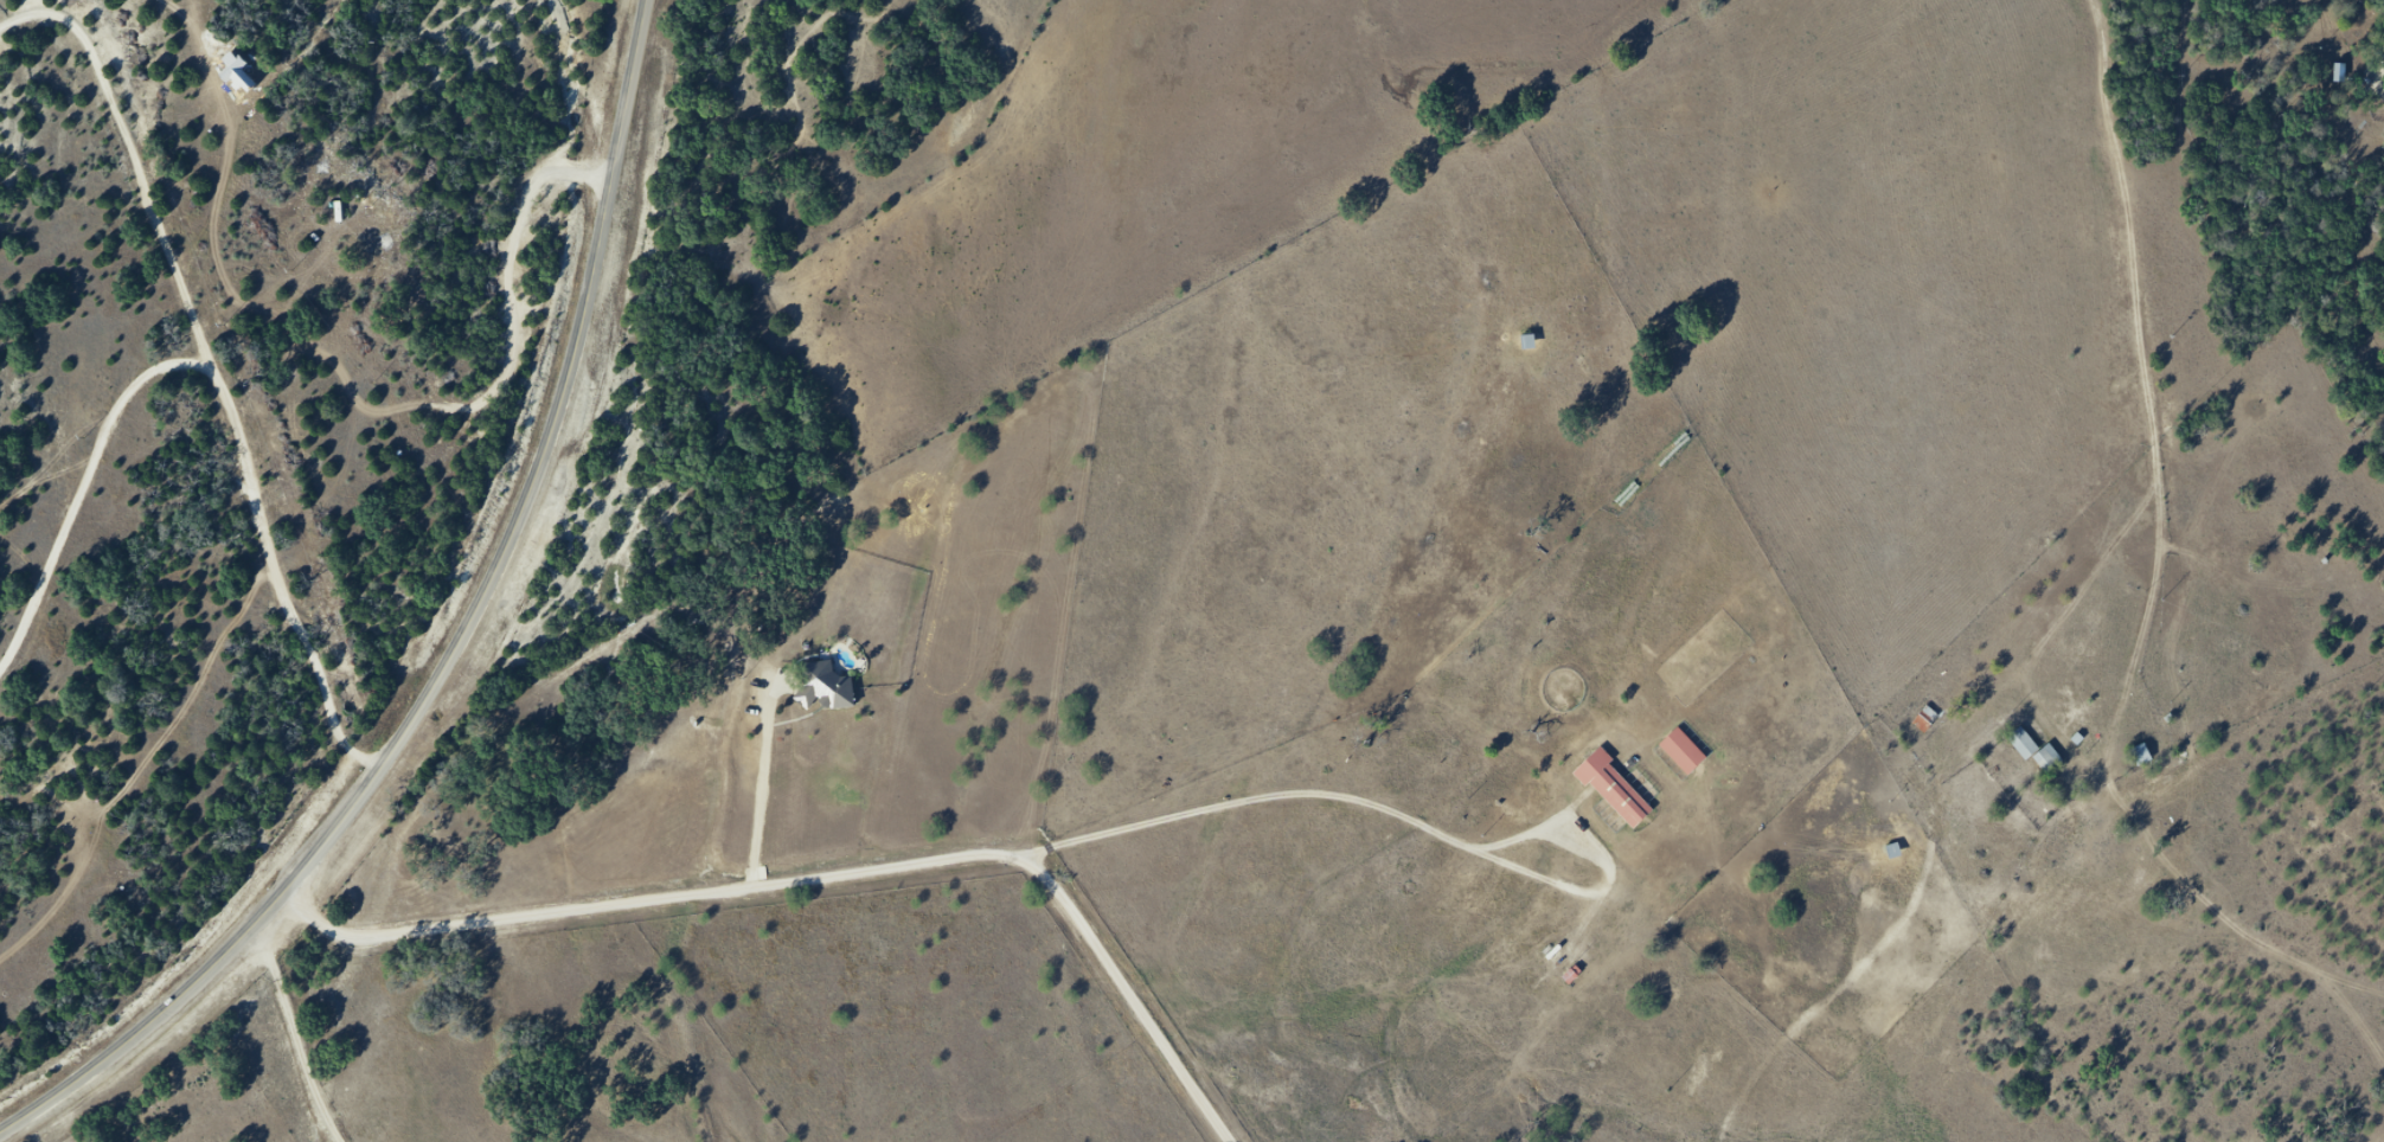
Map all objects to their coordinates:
building: (1529, 342)
road: (463, 648)
building: (834, 692)
building: (1940, 705)
building: (2024, 745)
building: (1683, 752)
building: (2145, 757)
building: (2047, 759)
road: (769, 779)
building: (1614, 790)
building: (1893, 852)
road: (828, 875)
road: (303, 1032)

